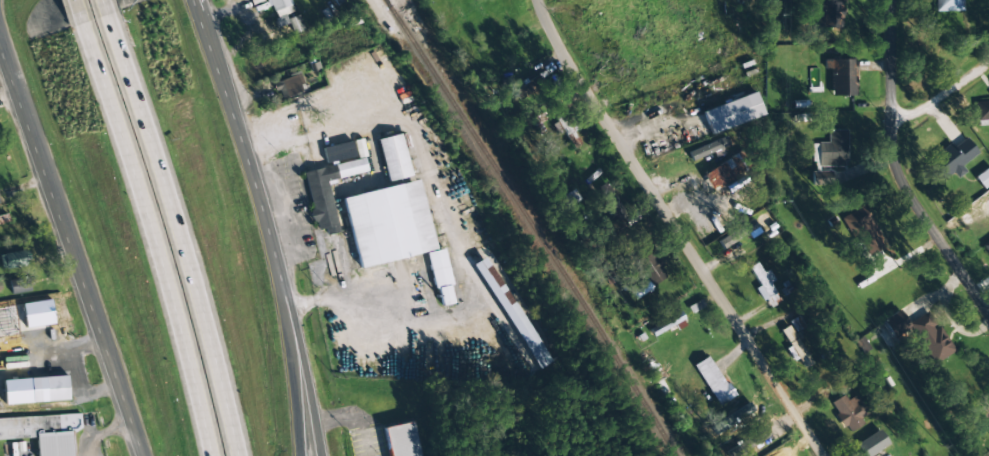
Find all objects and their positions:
building: (948, 5)
road: (101, 8)
road: (76, 12)
building: (827, 13)
building: (274, 23)
building: (840, 76)
road: (940, 80)
building: (289, 86)
road: (230, 110)
building: (982, 110)
building: (732, 112)
building: (833, 149)
building: (338, 152)
building: (393, 157)
road: (902, 158)
building: (951, 159)
building: (721, 172)
building: (821, 177)
building: (983, 177)
building: (327, 191)
building: (606, 202)
building: (4, 220)
building: (388, 223)
railway: (532, 228)
road: (680, 229)
building: (863, 230)
road: (176, 233)
building: (739, 233)
road: (152, 238)
building: (986, 246)
road: (72, 254)
building: (13, 259)
building: (652, 268)
building: (440, 277)
building: (20, 284)
building: (764, 285)
building: (666, 323)
building: (921, 333)
road: (288, 338)
road: (298, 338)
building: (795, 347)
building: (713, 380)
building: (50, 388)
building: (848, 411)
road: (336, 414)
building: (43, 432)
building: (401, 440)
building: (871, 443)
road: (128, 450)

